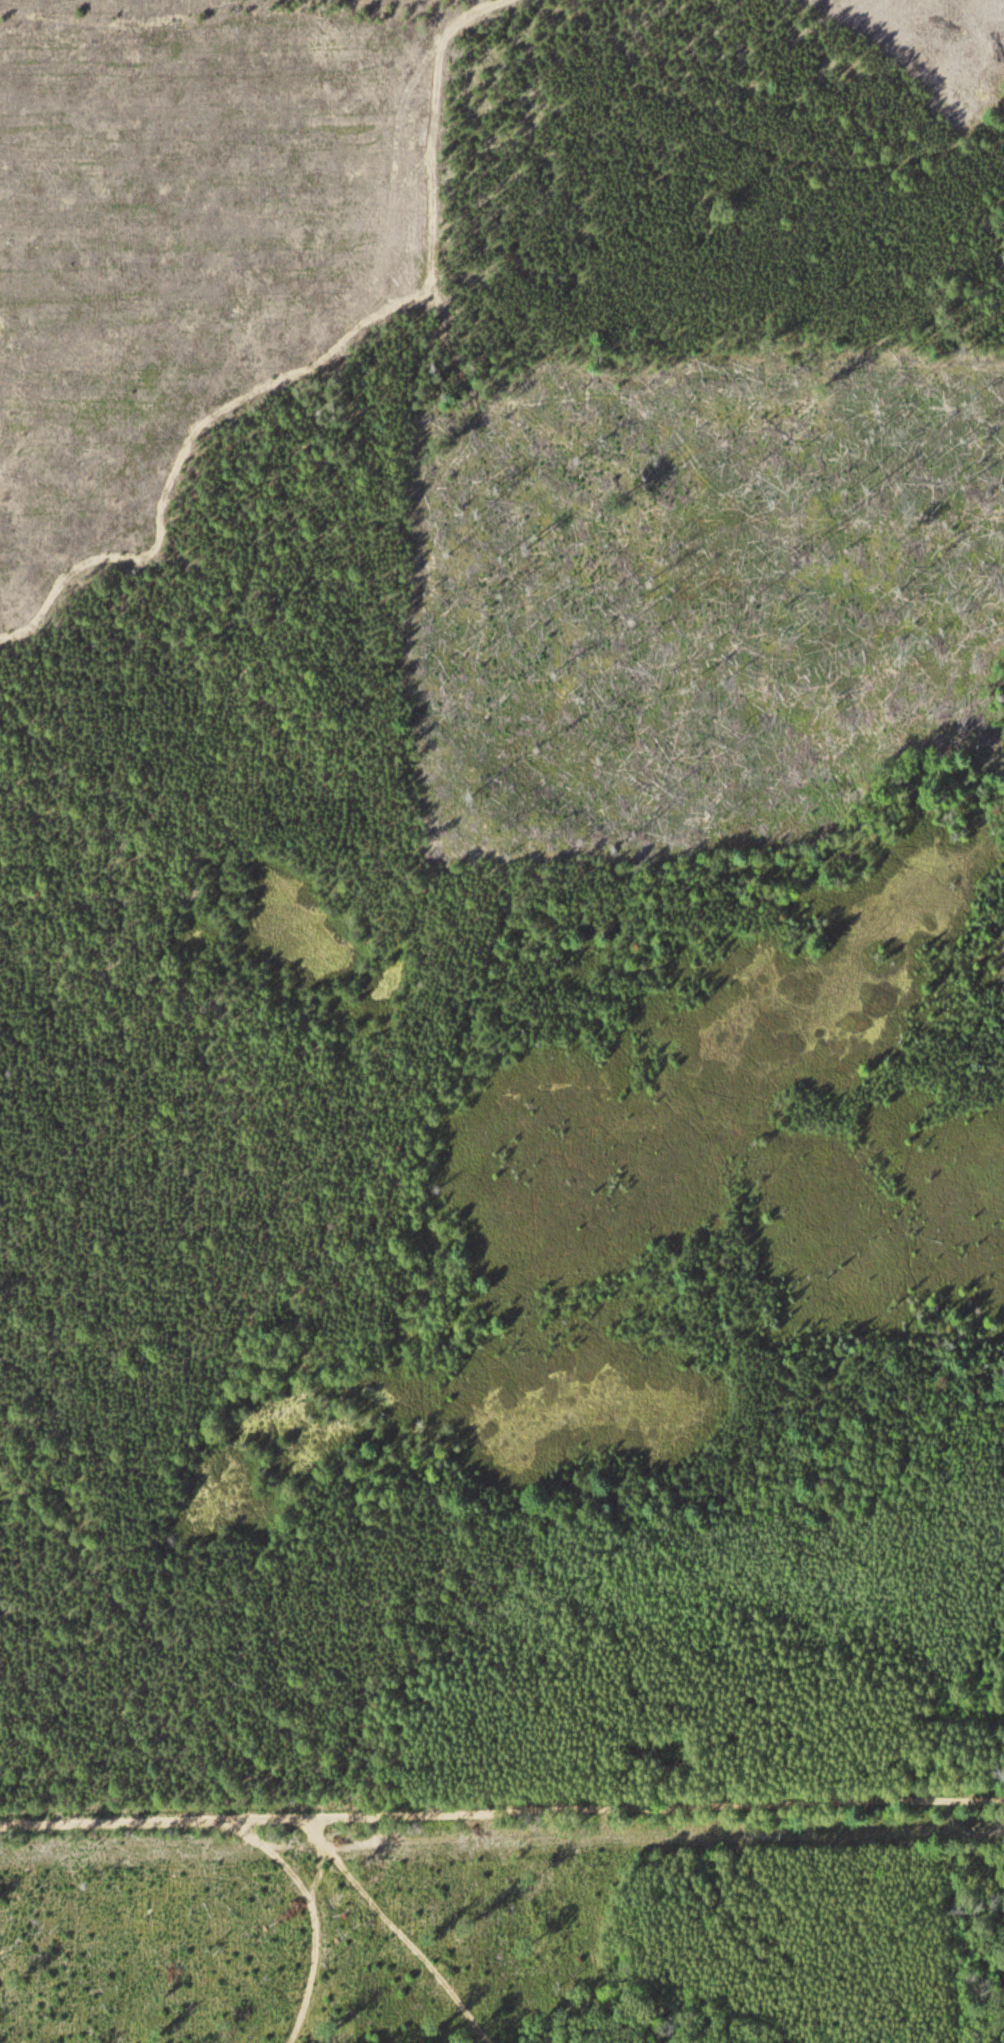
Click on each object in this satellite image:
road: (395, 0)
road: (139, 21)
road: (340, 365)
road: (501, 1808)
road: (308, 1915)
road: (395, 1929)

